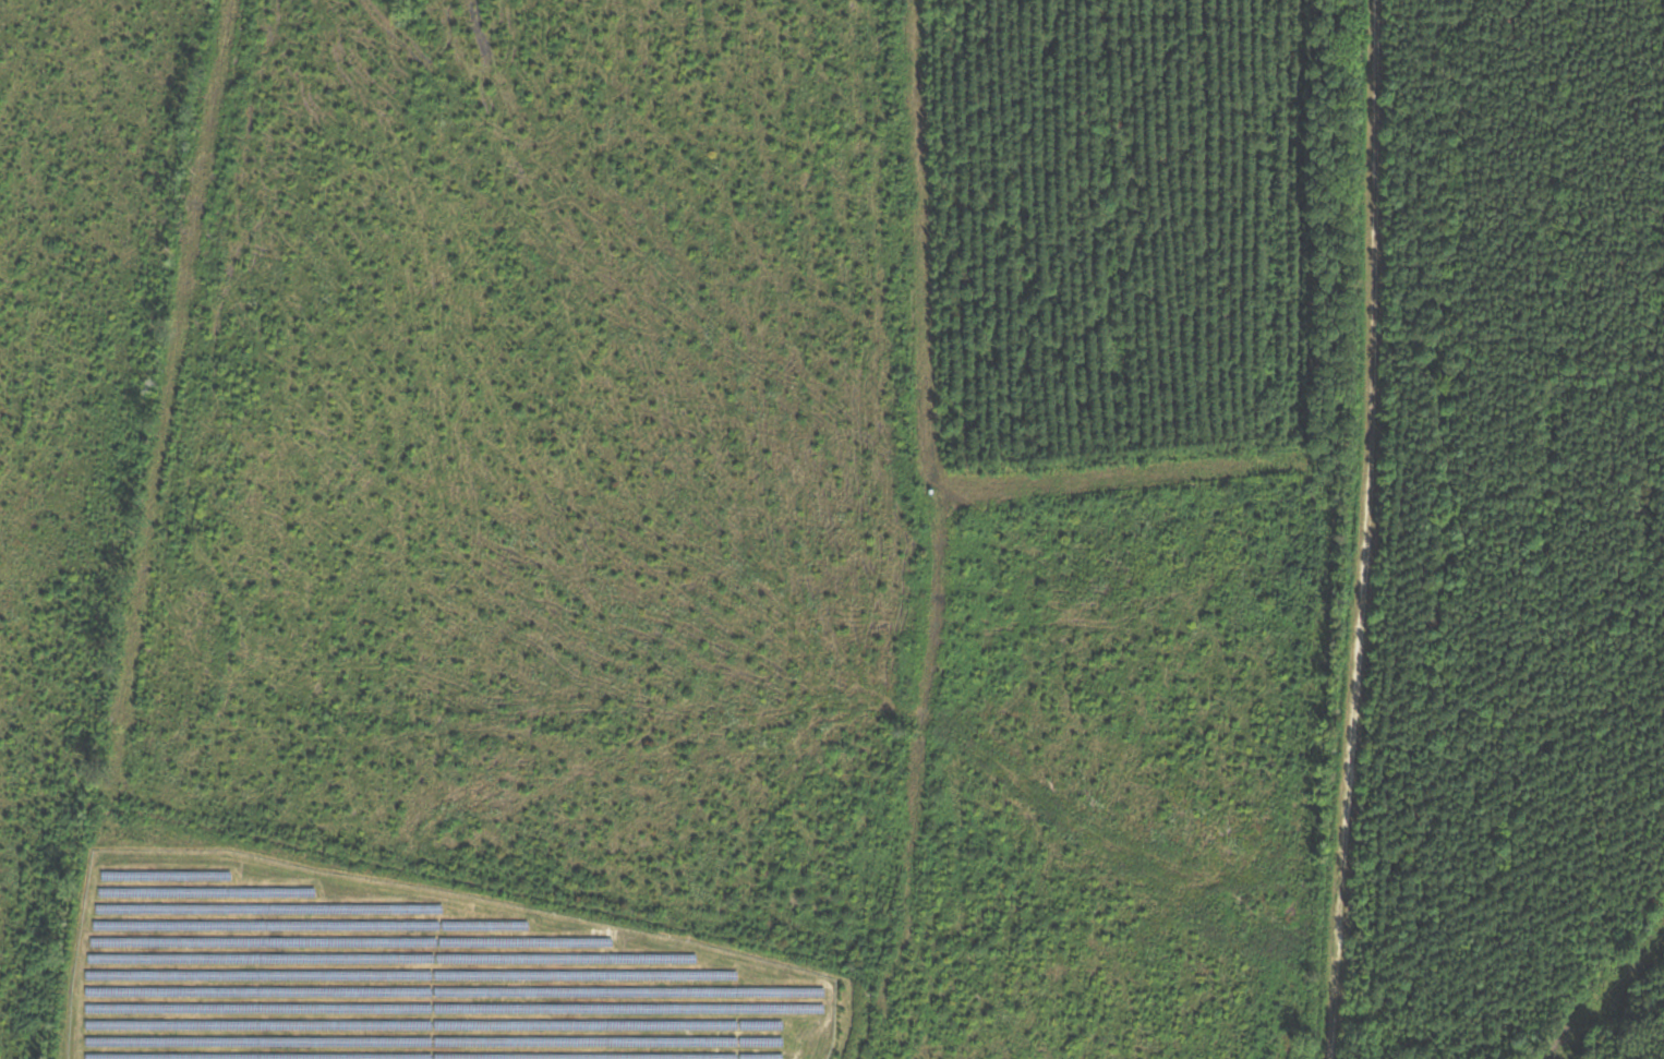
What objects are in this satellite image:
road: (1317, 529)

